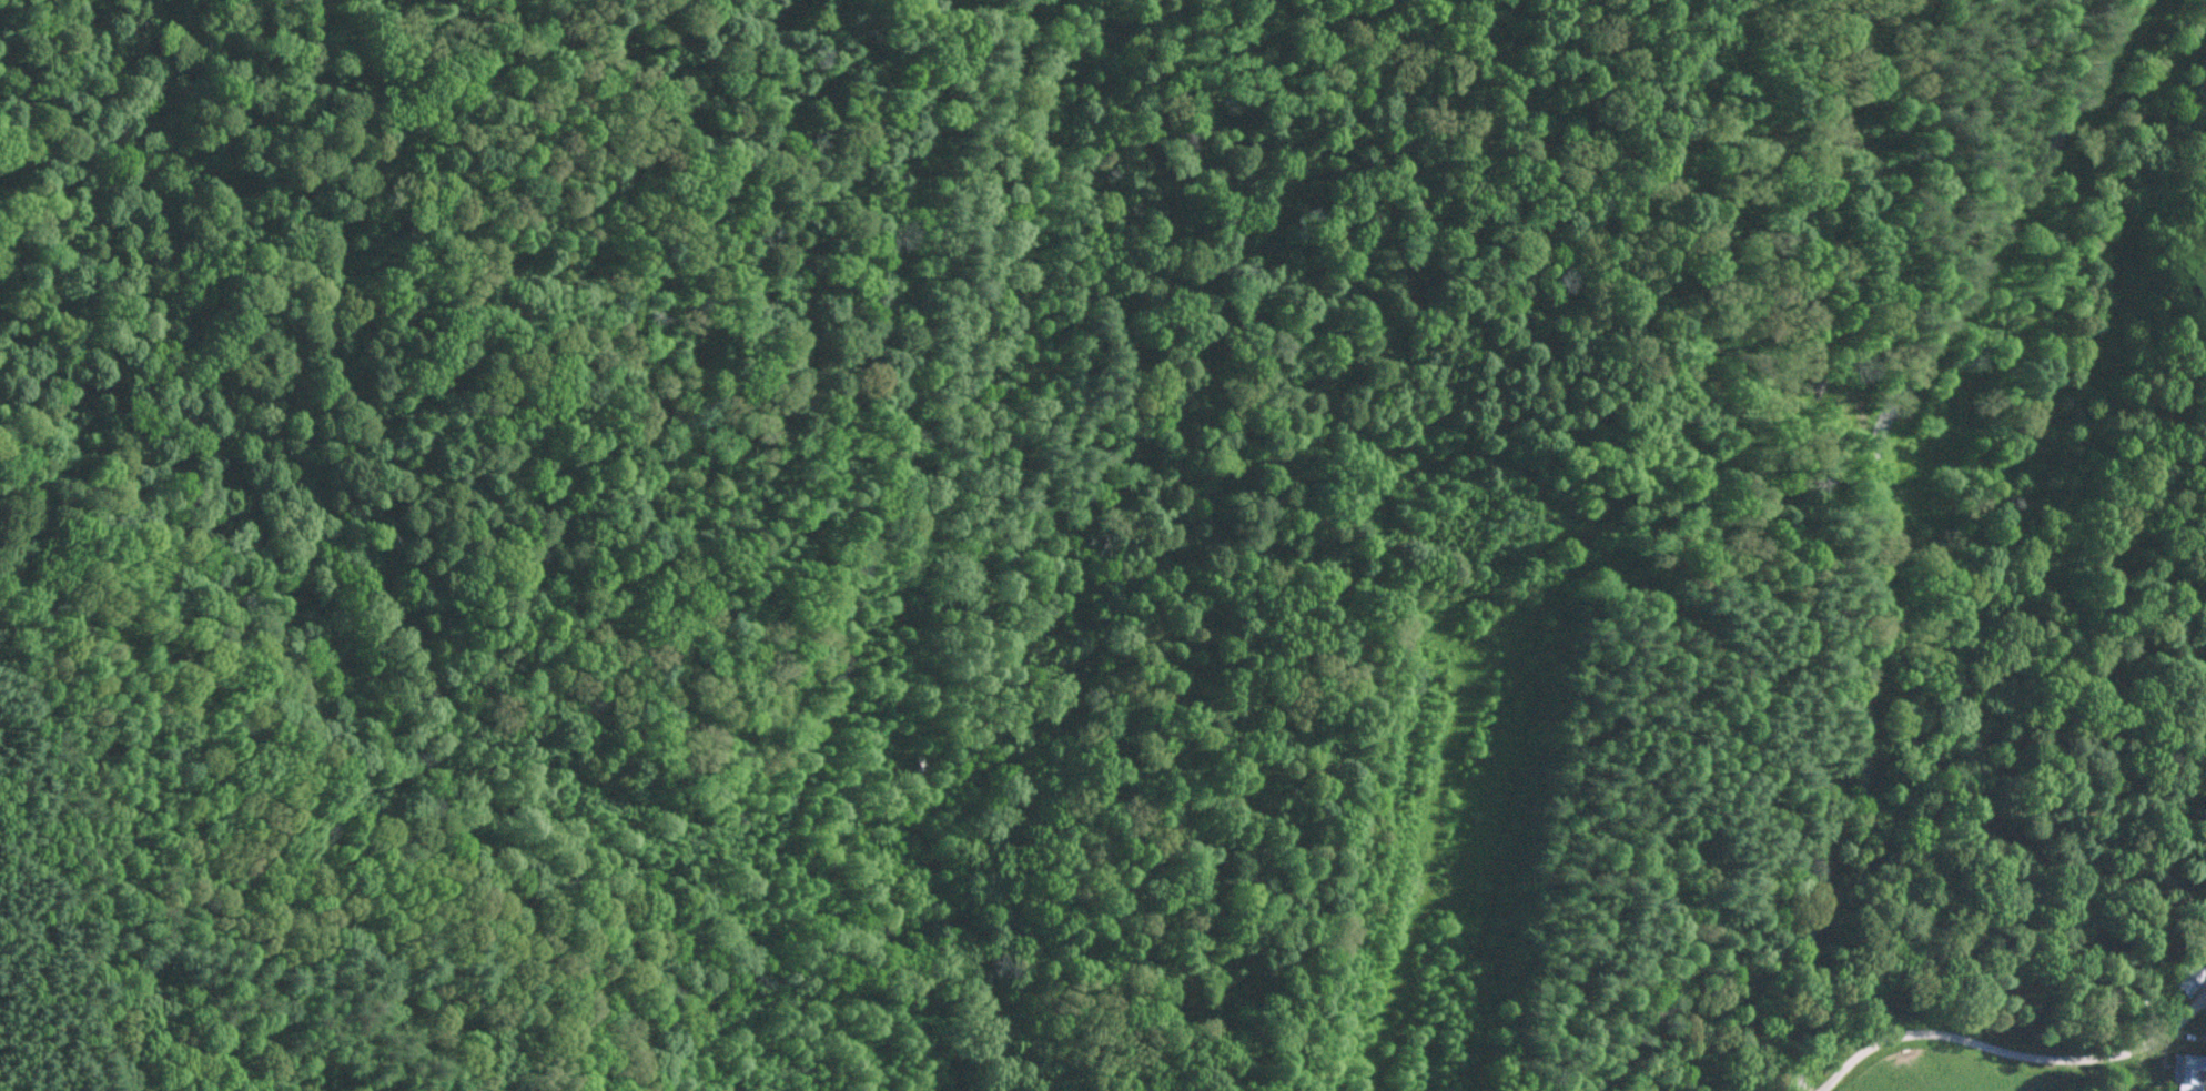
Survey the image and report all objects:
road: (2115, 9)
road: (2132, 9)
road: (1880, 526)
building: (2187, 978)
road: (2013, 1051)
building: (2180, 1072)

